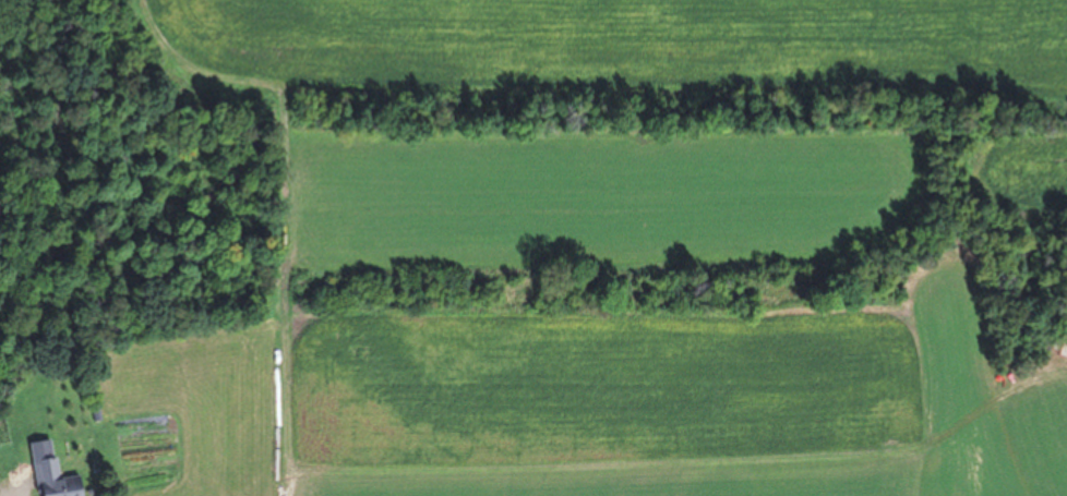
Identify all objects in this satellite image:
building: (52, 480)

